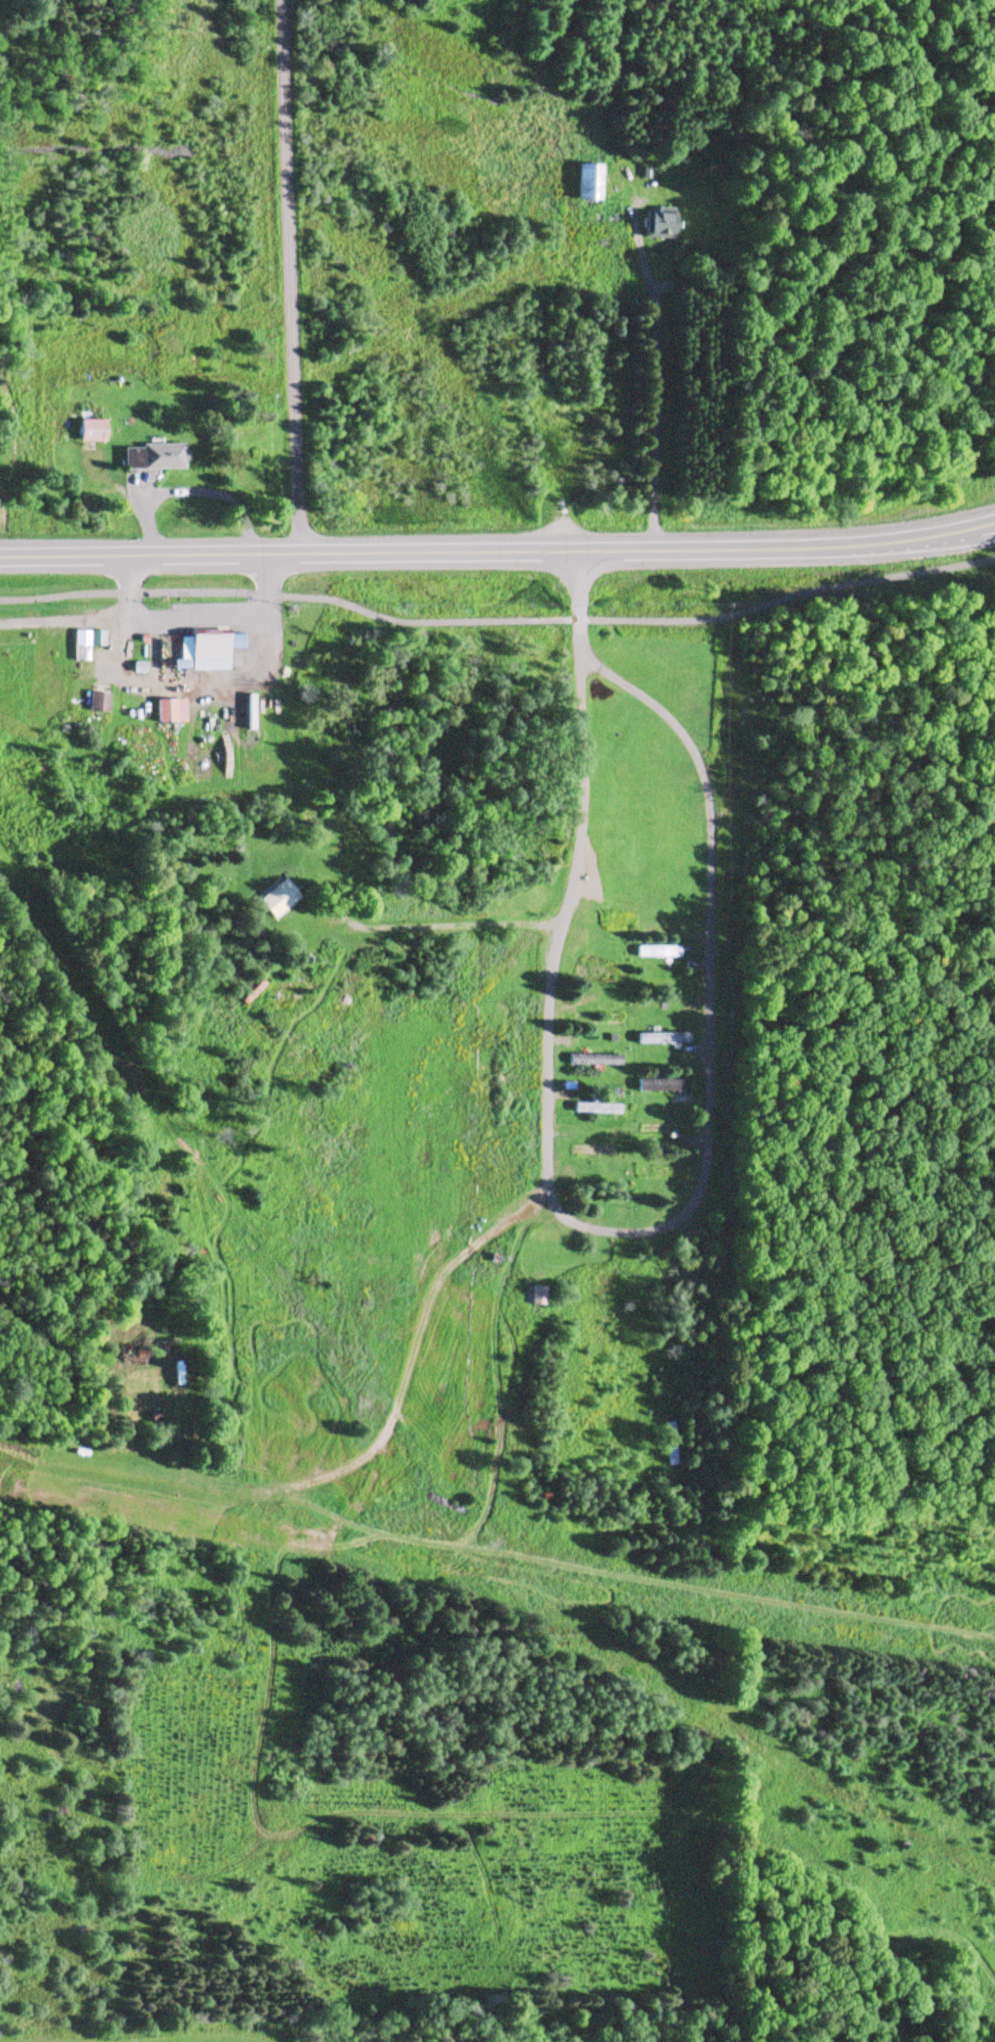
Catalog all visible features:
building: (585, 184)
building: (657, 225)
road: (288, 278)
road: (659, 381)
building: (87, 432)
building: (148, 458)
road: (498, 554)
road: (578, 605)
road: (189, 611)
road: (498, 623)
building: (203, 651)
building: (94, 703)
building: (165, 711)
building: (245, 712)
building: (273, 901)
building: (654, 949)
building: (593, 970)
building: (655, 1036)
building: (587, 1059)
building: (658, 1084)
building: (592, 1106)
building: (658, 1126)
building: (589, 1148)
building: (654, 1169)
road: (607, 1233)
building: (533, 1296)
building: (173, 1379)
building: (393, 1471)

